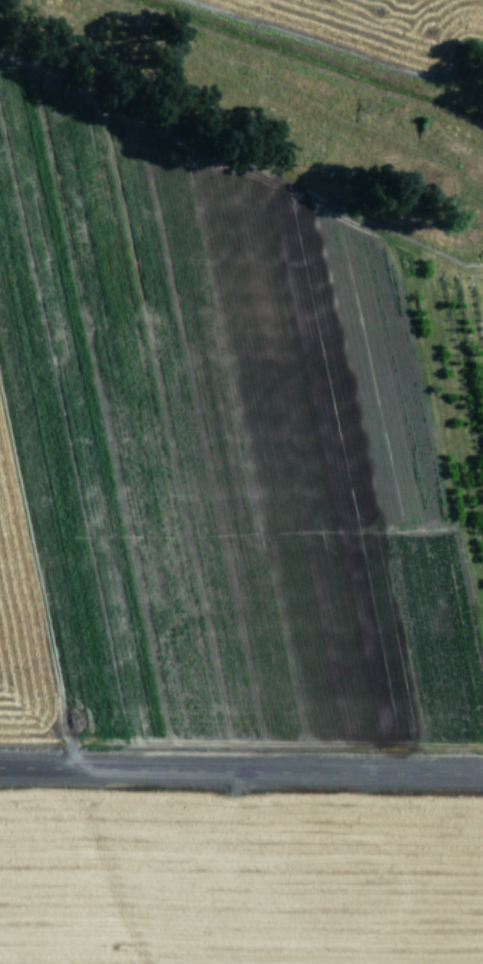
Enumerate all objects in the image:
crop: (242, 368)
road: (241, 764)
crop: (241, 882)

